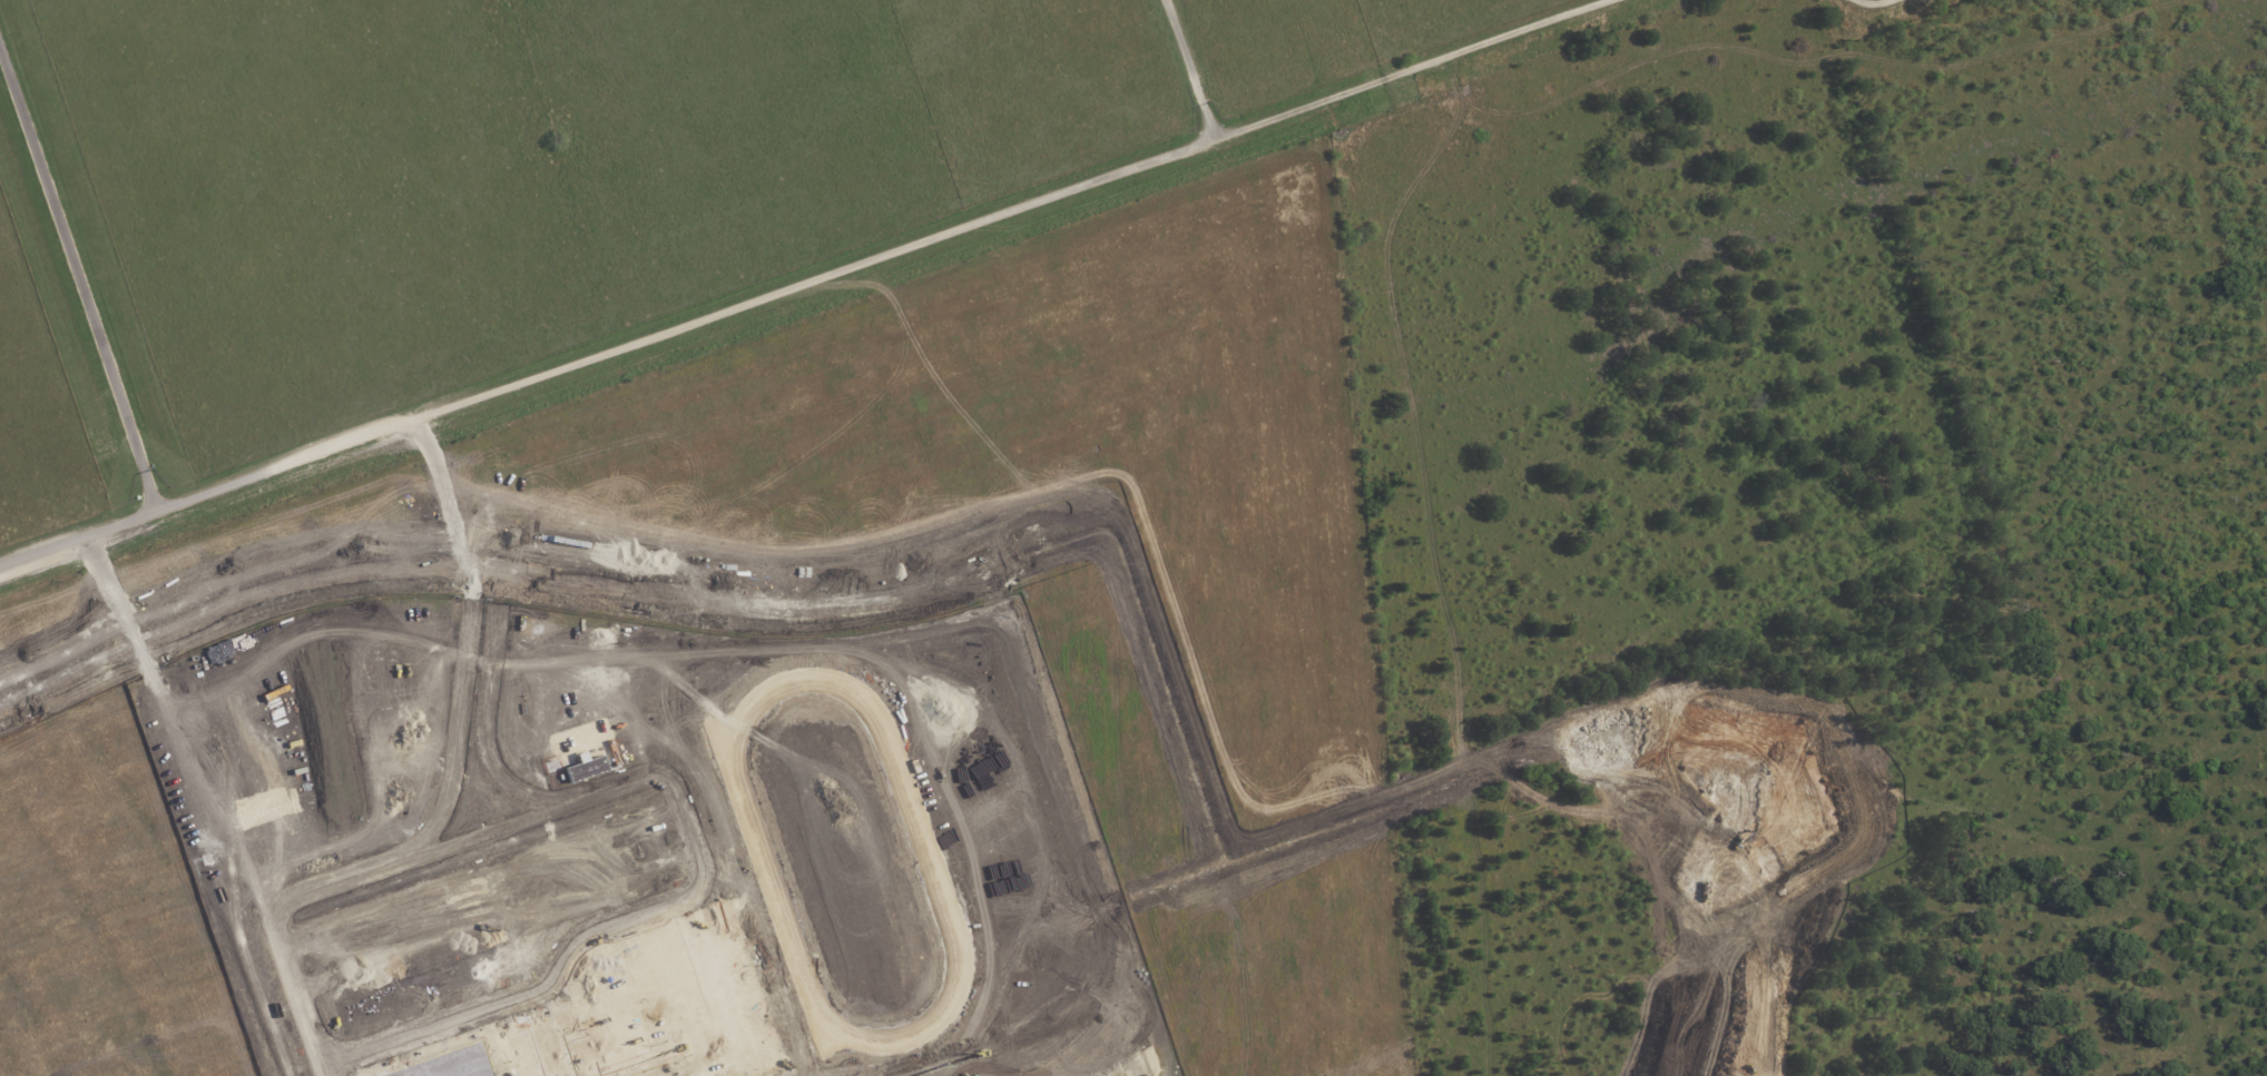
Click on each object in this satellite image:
road: (1826, 9)
road: (1198, 66)
road: (796, 279)
road: (80, 283)
road: (2071, 379)
road: (1847, 423)
road: (1169, 500)
road: (2194, 596)
road: (1479, 645)
road: (487, 699)
road: (458, 713)
road: (689, 828)
track: (925, 851)
road: (1082, 851)
road: (1393, 945)
road: (1670, 960)
road: (1985, 979)
road: (298, 993)
building: (651, 1013)
road: (1936, 1038)
building: (451, 1065)

